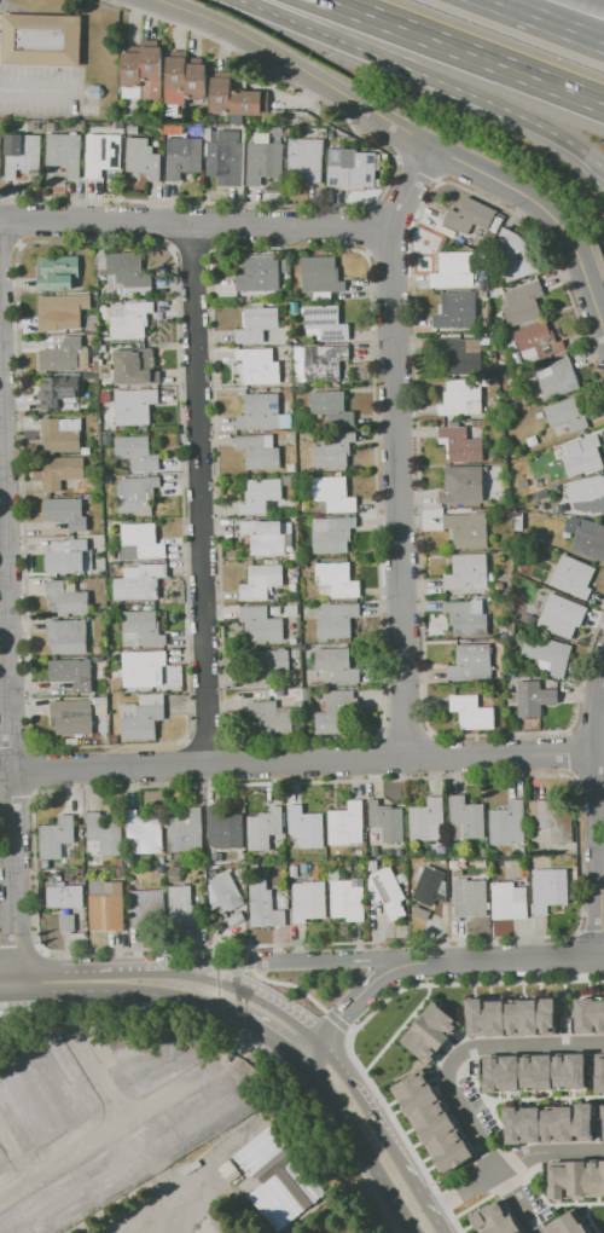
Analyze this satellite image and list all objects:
road: (596, 1)
road: (546, 21)
building: (41, 40)
road: (467, 50)
road: (296, 65)
building: (132, 69)
building: (151, 73)
road: (431, 76)
building: (176, 80)
building: (196, 82)
road: (34, 89)
building: (94, 92)
building: (220, 94)
building: (245, 102)
building: (236, 118)
building: (50, 127)
building: (114, 127)
building: (133, 129)
building: (278, 132)
building: (289, 132)
building: (209, 134)
building: (330, 135)
building: (330, 141)
building: (65, 152)
building: (21, 154)
building: (101, 154)
building: (182, 156)
building: (143, 158)
building: (226, 158)
building: (306, 160)
building: (263, 162)
building: (350, 168)
building: (378, 183)
road: (410, 189)
road: (550, 213)
building: (470, 218)
road: (193, 226)
building: (515, 255)
building: (454, 270)
building: (58, 272)
building: (129, 272)
building: (259, 274)
building: (321, 276)
building: (484, 284)
building: (483, 295)
building: (523, 303)
building: (64, 308)
building: (457, 311)
building: (130, 320)
building: (326, 323)
building: (256, 324)
building: (510, 340)
building: (539, 340)
building: (101, 348)
building: (458, 354)
building: (64, 355)
building: (517, 358)
building: (323, 363)
building: (94, 366)
building: (260, 366)
building: (132, 369)
building: (105, 370)
building: (558, 378)
building: (488, 381)
building: (56, 392)
building: (105, 396)
building: (460, 398)
building: (134, 406)
building: (332, 409)
building: (260, 412)
building: (567, 412)
building: (496, 432)
building: (59, 435)
building: (106, 439)
building: (535, 439)
building: (460, 445)
building: (333, 448)
building: (259, 452)
building: (137, 453)
building: (582, 455)
building: (291, 467)
building: (62, 471)
building: (108, 479)
building: (461, 485)
building: (135, 492)
building: (333, 493)
road: (397, 494)
building: (587, 494)
road: (199, 496)
building: (261, 496)
building: (66, 511)
building: (518, 523)
building: (466, 529)
building: (335, 536)
building: (269, 538)
building: (588, 539)
building: (144, 540)
building: (111, 555)
building: (294, 555)
building: (69, 557)
building: (467, 572)
building: (573, 577)
building: (295, 579)
building: (337, 579)
building: (139, 581)
building: (260, 581)
building: (498, 585)
building: (65, 598)
building: (562, 615)
building: (465, 618)
building: (337, 620)
building: (261, 623)
building: (143, 630)
building: (66, 636)
building: (308, 647)
building: (547, 653)
building: (98, 659)
building: (296, 659)
building: (470, 662)
building: (269, 664)
building: (337, 665)
building: (143, 667)
building: (72, 673)
building: (116, 685)
building: (307, 693)
building: (534, 697)
building: (100, 701)
building: (472, 712)
building: (337, 713)
building: (71, 716)
building: (141, 717)
building: (269, 718)
road: (7, 723)
building: (106, 740)
building: (114, 740)
road: (500, 757)
road: (203, 765)
building: (465, 818)
building: (426, 820)
building: (552, 820)
building: (387, 821)
building: (507, 823)
building: (345, 824)
road: (594, 824)
building: (223, 827)
building: (303, 827)
building: (263, 828)
building: (184, 830)
building: (144, 833)
building: (103, 835)
building: (56, 837)
building: (374, 851)
building: (484, 852)
building: (542, 857)
building: (161, 859)
building: (557, 859)
building: (118, 861)
building: (481, 862)
building: (46, 863)
building: (129, 864)
building: (453, 864)
building: (372, 866)
building: (303, 868)
building: (159, 869)
building: (213, 870)
building: (295, 870)
building: (120, 872)
building: (174, 872)
building: (429, 886)
building: (548, 888)
building: (226, 891)
building: (387, 891)
building: (63, 897)
building: (345, 897)
building: (469, 897)
building: (308, 901)
building: (509, 901)
building: (106, 905)
building: (265, 905)
building: (184, 907)
building: (146, 908)
building: (233, 917)
building: (68, 922)
road: (603, 956)
road: (303, 959)
road: (515, 960)
road: (205, 978)
road: (47, 983)
road: (7, 984)
road: (364, 988)
road: (563, 988)
road: (162, 996)
building: (590, 1014)
building: (510, 1017)
road: (399, 1027)
building: (431, 1032)
road: (273, 1035)
road: (522, 1043)
road: (308, 1048)
road: (331, 1060)
building: (534, 1072)
building: (167, 1075)
building: (600, 1075)
road: (106, 1087)
building: (71, 1089)
road: (530, 1098)
building: (24, 1113)
building: (213, 1117)
building: (603, 1121)
building: (432, 1122)
building: (548, 1122)
road: (498, 1125)
road: (381, 1133)
road: (358, 1142)
road: (111, 1145)
road: (483, 1148)
road: (18, 1158)
road: (512, 1162)
building: (2, 1163)
building: (133, 1164)
building: (576, 1179)
road: (482, 1198)
road: (556, 1203)
road: (430, 1208)
building: (51, 1212)
park: (597, 1215)
building: (495, 1218)
road: (588, 1218)
building: (571, 1222)

